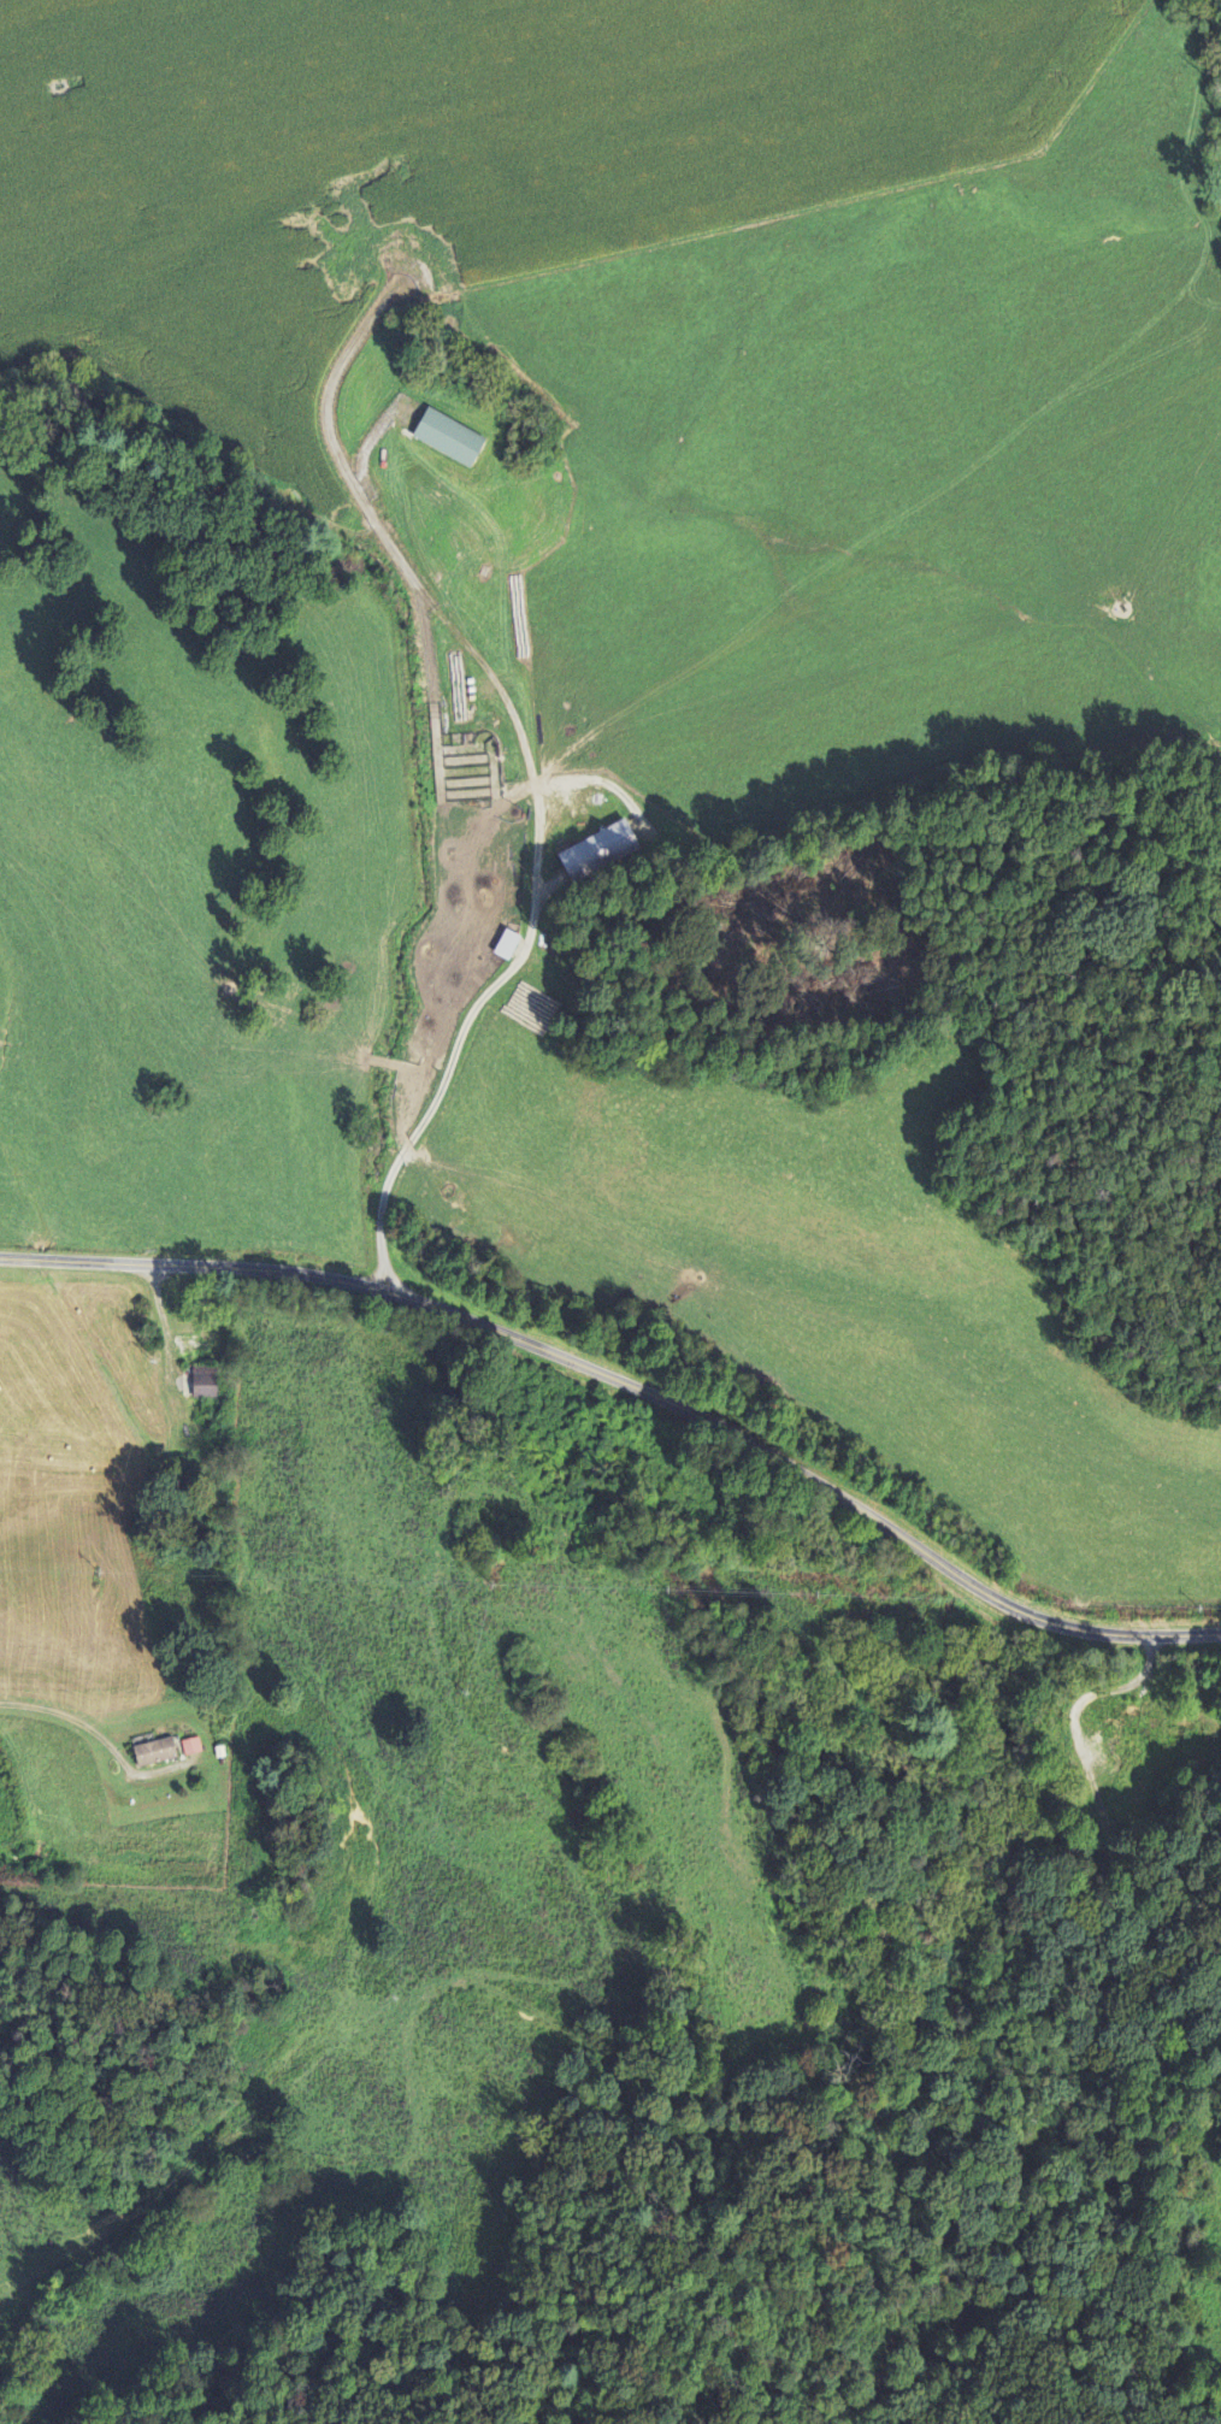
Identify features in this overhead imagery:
building: (449, 440)
road: (480, 661)
building: (598, 853)
road: (507, 969)
road: (412, 1137)
building: (205, 1384)
road: (632, 1385)
road: (177, 1411)
building: (191, 1747)
road: (912, 1748)
building: (157, 1753)

